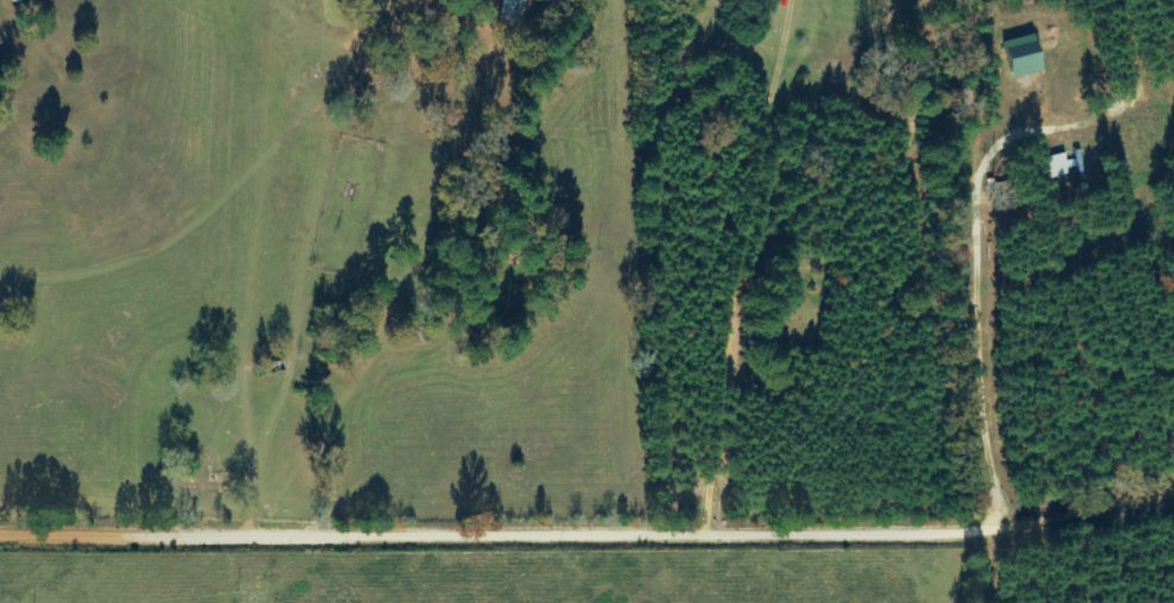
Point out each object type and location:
road: (248, 267)
road: (749, 268)
road: (590, 534)

